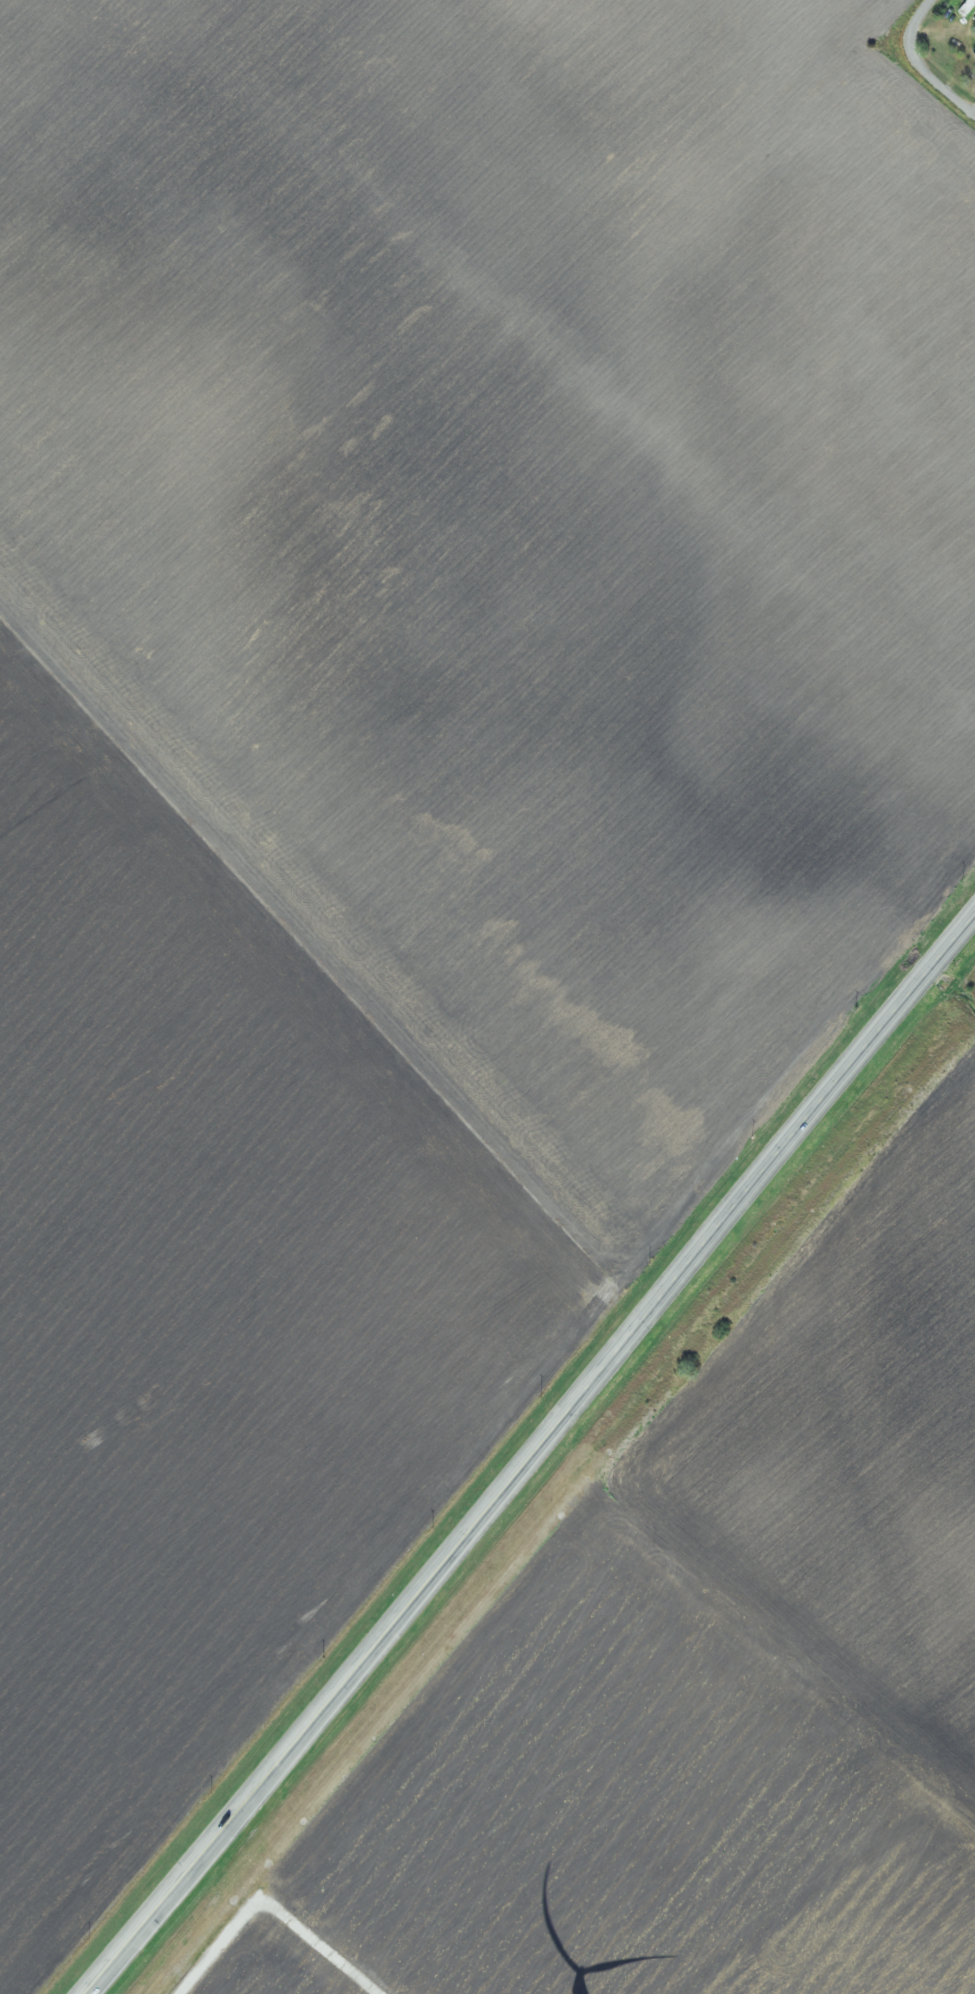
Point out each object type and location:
building: (964, 6)
road: (912, 18)
building: (970, 48)
road: (935, 80)
road: (533, 1458)
railway: (565, 1504)

